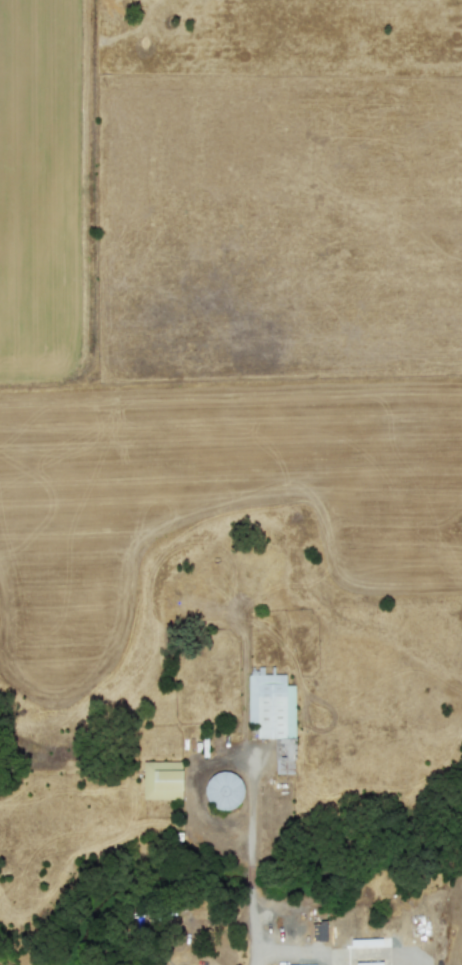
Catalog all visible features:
crop: (228, 179)
building: (273, 713)
building: (162, 779)
building: (223, 789)
road: (249, 805)
road: (249, 873)
road: (251, 920)
building: (318, 931)
road: (330, 947)
building: (369, 963)
building: (292, 964)

